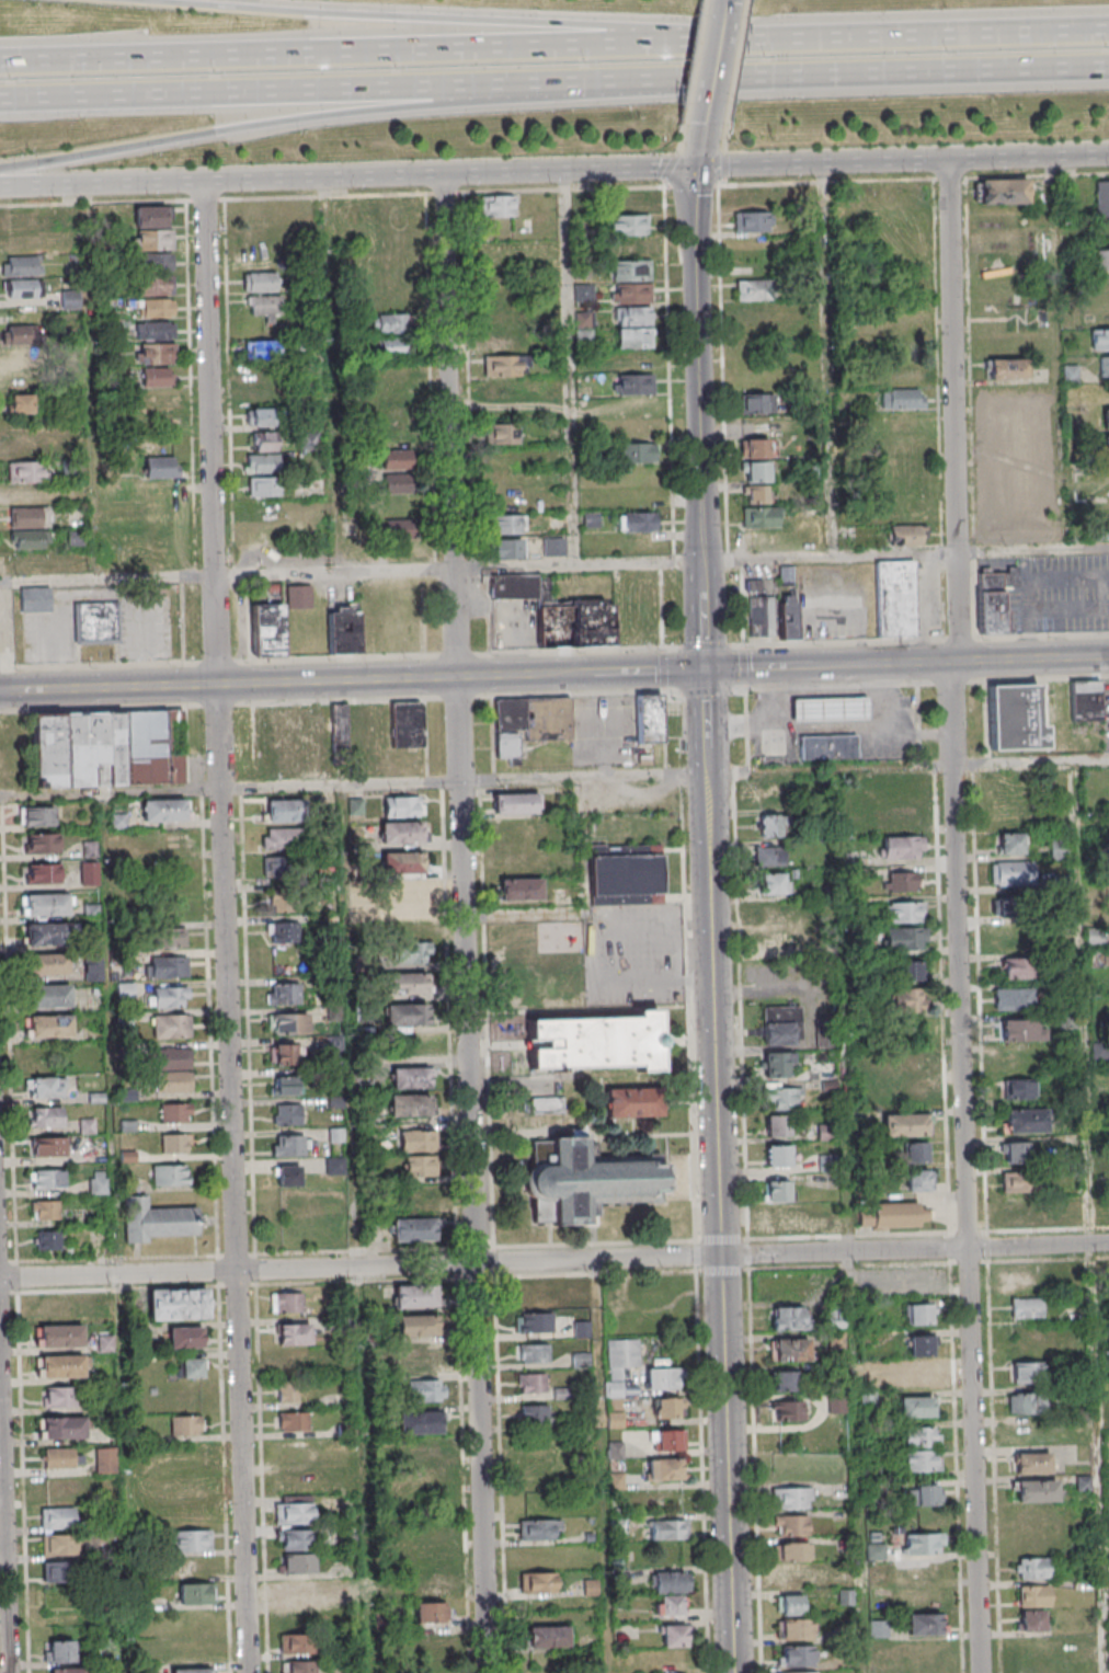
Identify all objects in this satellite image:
road: (468, 19)
road: (945, 37)
road: (390, 57)
road: (711, 64)
road: (688, 73)
road: (732, 73)
road: (825, 78)
road: (271, 94)
road: (271, 125)
road: (696, 147)
traffic signals: (694, 168)
road: (554, 172)
road: (688, 184)
building: (1001, 191)
building: (754, 197)
building: (1100, 198)
building: (628, 202)
building: (495, 206)
building: (386, 208)
building: (18, 221)
building: (750, 221)
building: (627, 225)
building: (259, 234)
building: (151, 238)
building: (997, 239)
building: (18, 243)
building: (629, 248)
building: (258, 259)
building: (1100, 260)
building: (19, 265)
building: (258, 282)
building: (630, 282)
building: (152, 285)
building: (21, 288)
building: (582, 291)
building: (392, 300)
building: (753, 301)
building: (264, 307)
building: (156, 308)
building: (389, 323)
building: (155, 330)
building: (14, 334)
building: (1099, 339)
building: (500, 342)
building: (389, 345)
building: (261, 351)
building: (158, 353)
road: (1057, 353)
building: (18, 357)
road: (828, 360)
road: (695, 365)
building: (1104, 366)
road: (570, 368)
building: (1005, 368)
road: (331, 375)
building: (904, 376)
building: (156, 377)
building: (262, 378)
building: (20, 380)
road: (92, 382)
building: (634, 383)
building: (502, 388)
building: (261, 398)
building: (901, 398)
building: (757, 402)
building: (20, 404)
road: (722, 414)
building: (260, 416)
building: (1105, 419)
building: (501, 433)
building: (395, 437)
building: (264, 442)
building: (1106, 445)
building: (25, 448)
building: (754, 448)
building: (636, 452)
building: (396, 459)
building: (261, 462)
building: (163, 467)
building: (25, 471)
building: (754, 471)
building: (398, 485)
building: (506, 485)
building: (263, 486)
building: (30, 494)
building: (754, 494)
building: (30, 517)
building: (759, 517)
building: (637, 520)
building: (507, 523)
building: (1102, 528)
building: (906, 535)
building: (26, 539)
building: (553, 546)
building: (506, 548)
road: (904, 554)
building: (28, 563)
road: (579, 565)
road: (228, 575)
building: (786, 575)
building: (299, 596)
building: (894, 598)
building: (35, 599)
building: (992, 599)
building: (560, 614)
building: (762, 616)
road: (702, 617)
building: (788, 617)
building: (94, 622)
building: (267, 630)
building: (343, 631)
road: (1031, 660)
road: (827, 665)
traffic signals: (704, 671)
road: (581, 674)
road: (229, 685)
road: (664, 689)
road: (883, 698)
building: (1086, 701)
building: (832, 708)
building: (650, 718)
building: (1015, 718)
building: (407, 724)
building: (529, 724)
road: (828, 730)
building: (311, 736)
building: (831, 746)
building: (108, 747)
road: (1030, 761)
road: (828, 768)
road: (465, 779)
building: (770, 790)
road: (113, 791)
building: (515, 803)
building: (403, 807)
building: (165, 810)
building: (284, 810)
building: (36, 815)
building: (896, 817)
building: (851, 825)
building: (771, 826)
building: (402, 835)
building: (281, 838)
building: (41, 843)
building: (170, 843)
building: (1011, 843)
building: (901, 847)
building: (769, 856)
building: (402, 863)
building: (278, 867)
building: (1011, 872)
building: (42, 873)
building: (89, 873)
building: (628, 874)
building: (902, 881)
building: (774, 883)
building: (519, 889)
building: (407, 894)
building: (282, 902)
road: (583, 902)
building: (45, 905)
building: (1009, 905)
building: (905, 912)
building: (770, 914)
road: (957, 915)
road: (467, 924)
building: (404, 925)
road: (229, 927)
building: (283, 932)
building: (46, 936)
building: (169, 938)
building: (905, 938)
building: (1006, 938)
building: (773, 943)
road: (596, 949)
building: (411, 954)
road: (739, 959)
building: (1098, 959)
road: (710, 963)
building: (47, 965)
building: (168, 966)
building: (1014, 967)
building: (93, 969)
building: (912, 971)
building: (405, 985)
building: (283, 993)
building: (48, 996)
building: (169, 997)
building: (1010, 999)
building: (910, 1000)
building: (405, 1016)
building: (287, 1023)
building: (47, 1025)
building: (781, 1025)
building: (171, 1027)
building: (1021, 1030)
building: (598, 1044)
building: (283, 1054)
building: (171, 1058)
building: (1017, 1058)
building: (910, 1061)
building: (776, 1064)
building: (411, 1078)
building: (172, 1081)
building: (284, 1085)
building: (46, 1087)
building: (1018, 1088)
building: (908, 1095)
building: (782, 1098)
building: (636, 1103)
building: (410, 1105)
building: (549, 1107)
building: (175, 1112)
building: (288, 1114)
building: (45, 1116)
building: (1026, 1121)
building: (905, 1125)
building: (778, 1126)
building: (824, 1132)
building: (419, 1141)
building: (175, 1143)
building: (290, 1145)
building: (47, 1146)
building: (916, 1151)
building: (1016, 1153)
building: (778, 1157)
building: (420, 1166)
building: (170, 1174)
building: (288, 1176)
building: (46, 1179)
building: (918, 1180)
building: (591, 1181)
building: (95, 1182)
building: (1020, 1182)
building: (779, 1191)
building: (299, 1205)
building: (45, 1210)
building: (1019, 1211)
building: (894, 1215)
road: (1086, 1216)
building: (781, 1218)
road: (850, 1219)
building: (157, 1221)
road: (357, 1227)
building: (412, 1228)
road: (119, 1231)
building: (47, 1240)
road: (699, 1240)
road: (554, 1261)
building: (1020, 1282)
building: (414, 1295)
building: (286, 1302)
building: (178, 1304)
building: (56, 1307)
building: (1027, 1307)
building: (921, 1314)
building: (835, 1316)
building: (789, 1317)
building: (535, 1322)
building: (416, 1325)
building: (293, 1333)
building: (59, 1336)
building: (185, 1337)
building: (836, 1340)
building: (921, 1344)
building: (790, 1349)
building: (534, 1353)
building: (420, 1356)
building: (295, 1361)
building: (620, 1363)
building: (59, 1365)
building: (190, 1367)
building: (1026, 1372)
building: (916, 1374)
building: (663, 1379)
building: (784, 1382)
building: (531, 1383)
building: (426, 1389)
building: (287, 1391)
building: (52, 1396)
building: (1025, 1402)
building: (835, 1405)
building: (917, 1407)
building: (666, 1409)
building: (788, 1411)
building: (535, 1412)
building: (293, 1421)
building: (419, 1422)
building: (185, 1424)
building: (65, 1426)
building: (921, 1436)
building: (666, 1441)
building: (424, 1449)
building: (617, 1451)
building: (61, 1457)
building: (921, 1460)
building: (1031, 1463)
road: (727, 1464)
road: (605, 1466)
building: (664, 1469)
road: (754, 1470)
building: (64, 1488)
building: (1034, 1490)
building: (924, 1494)
building: (792, 1498)
building: (294, 1509)
building: (57, 1519)
building: (790, 1524)
building: (539, 1528)
building: (668, 1529)
building: (427, 1534)
building: (295, 1539)
building: (192, 1540)
building: (923, 1543)
building: (58, 1544)
road: (3, 1546)
building: (793, 1550)
building: (876, 1550)
building: (297, 1563)
building: (1032, 1568)
building: (56, 1571)
building: (793, 1578)
building: (670, 1582)
building: (538, 1583)
building: (427, 1586)
building: (299, 1590)
building: (196, 1593)
building: (1033, 1595)
building: (789, 1604)
building: (670, 1605)
building: (1031, 1620)
building: (426, 1624)
building: (925, 1624)
building: (794, 1628)
building: (674, 1636)
building: (547, 1639)
building: (297, 1643)
building: (58, 1650)
building: (111, 1650)
building: (798, 1655)
building: (298, 1666)
building: (191, 1670)
building: (799, 1672)

